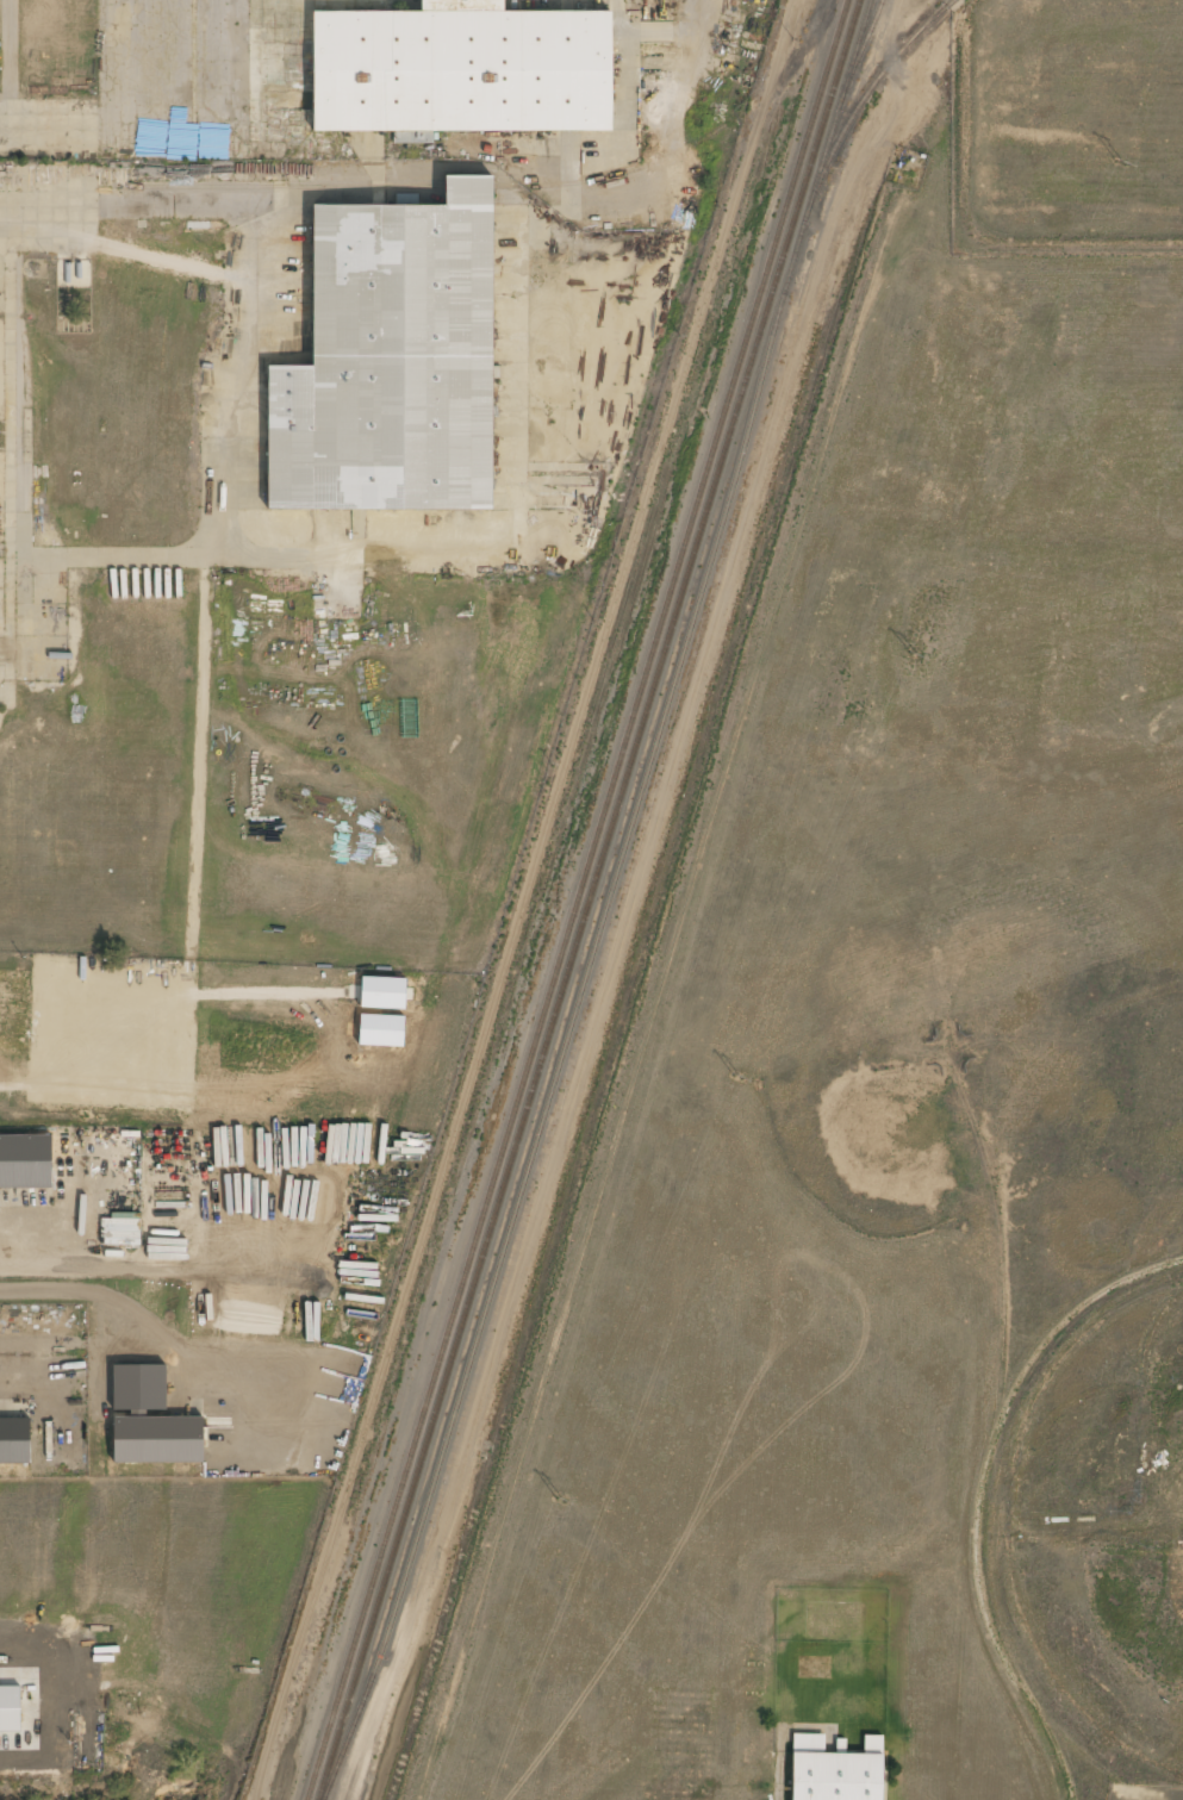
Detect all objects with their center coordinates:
railway: (936, 14)
railway: (866, 41)
building: (461, 70)
railway: (863, 101)
power tower: (1121, 164)
building: (392, 362)
power tower: (911, 655)
railway: (578, 899)
railway: (587, 899)
railway: (609, 903)
building: (382, 994)
power tower: (734, 1078)
building: (25, 1161)
building: (158, 1439)
building: (14, 1440)
power tower: (555, 1499)
building: (10, 1708)
building: (835, 1770)

